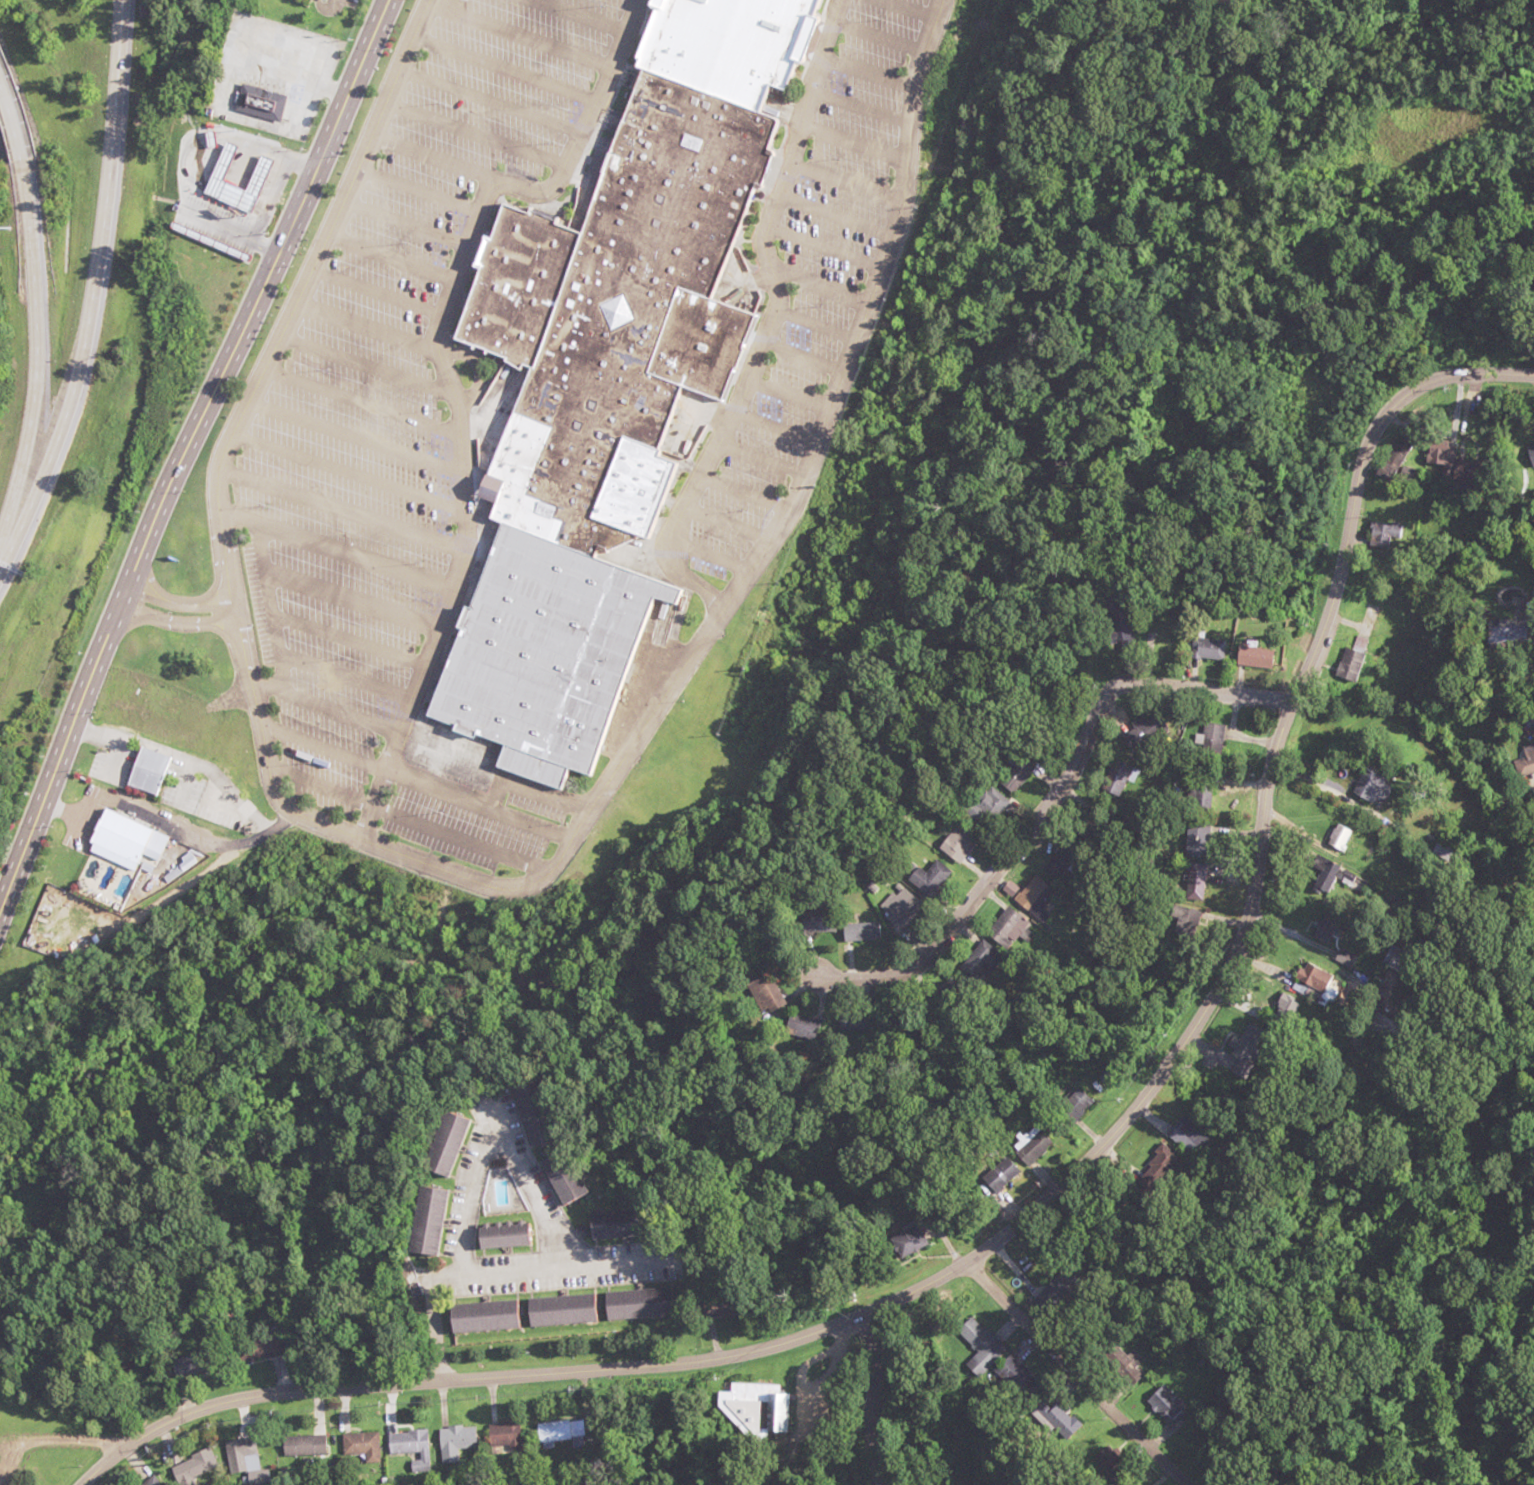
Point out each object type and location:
building: (258, 103)
road: (10, 127)
building: (257, 171)
road: (95, 288)
road: (772, 319)
road: (36, 349)
building: (604, 369)
road: (444, 381)
road: (183, 460)
building: (1391, 460)
building: (631, 489)
building: (1371, 537)
road: (177, 613)
building: (1501, 634)
building: (1162, 639)
building: (1207, 648)
building: (1253, 656)
building: (1349, 661)
road: (195, 710)
building: (1154, 726)
building: (1529, 728)
building: (1209, 741)
road: (180, 757)
building: (1525, 761)
building: (143, 770)
building: (1015, 774)
building: (1115, 778)
building: (1371, 787)
building: (1199, 791)
building: (991, 802)
road: (1265, 802)
road: (1047, 804)
road: (170, 830)
building: (119, 836)
building: (1337, 837)
building: (1195, 842)
building: (956, 843)
building: (1063, 861)
building: (1322, 874)
road: (471, 877)
building: (927, 877)
building: (1194, 880)
building: (1036, 897)
building: (899, 908)
building: (816, 921)
building: (1006, 928)
building: (1323, 931)
building: (859, 932)
building: (982, 960)
building: (1312, 976)
building: (767, 994)
building: (1074, 1106)
building: (441, 1143)
building: (1032, 1148)
building: (999, 1173)
building: (558, 1178)
building: (429, 1222)
building: (605, 1224)
building: (500, 1236)
building: (907, 1242)
building: (634, 1303)
building: (711, 1309)
building: (559, 1311)
building: (481, 1315)
building: (981, 1344)
road: (880, 1349)
building: (254, 1350)
building: (1124, 1364)
building: (184, 1367)
road: (1077, 1375)
road: (523, 1376)
building: (1019, 1379)
building: (1167, 1404)
building: (753, 1409)
building: (1057, 1421)
building: (553, 1433)
building: (503, 1434)
road: (54, 1441)
building: (454, 1441)
building: (410, 1445)
building: (304, 1446)
building: (362, 1446)
building: (242, 1455)
building: (193, 1468)
building: (150, 1481)

